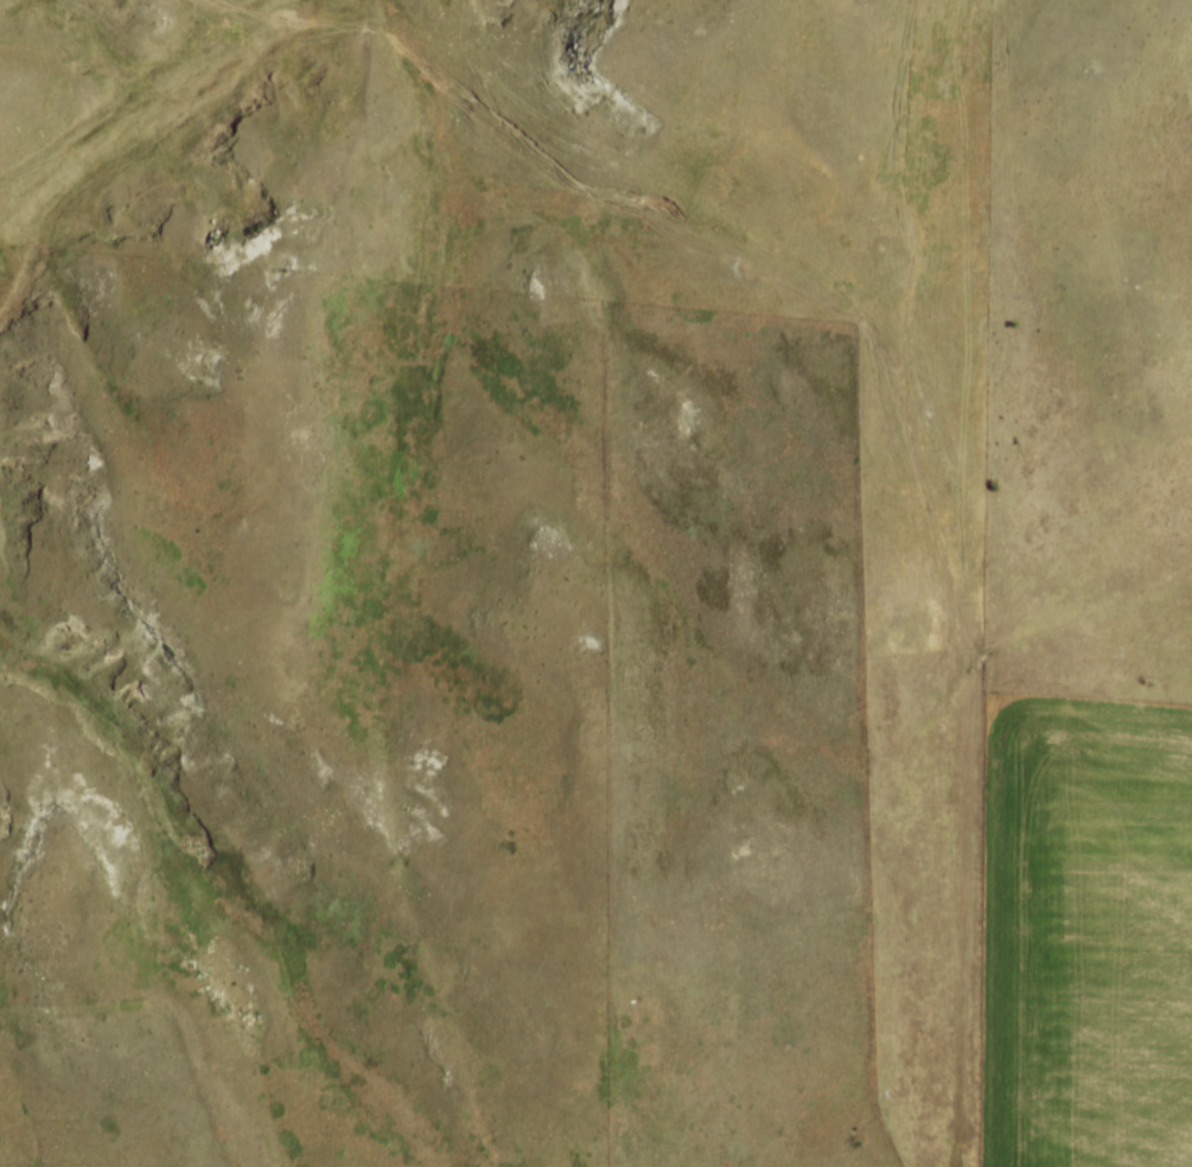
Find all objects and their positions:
crop: (1086, 931)

